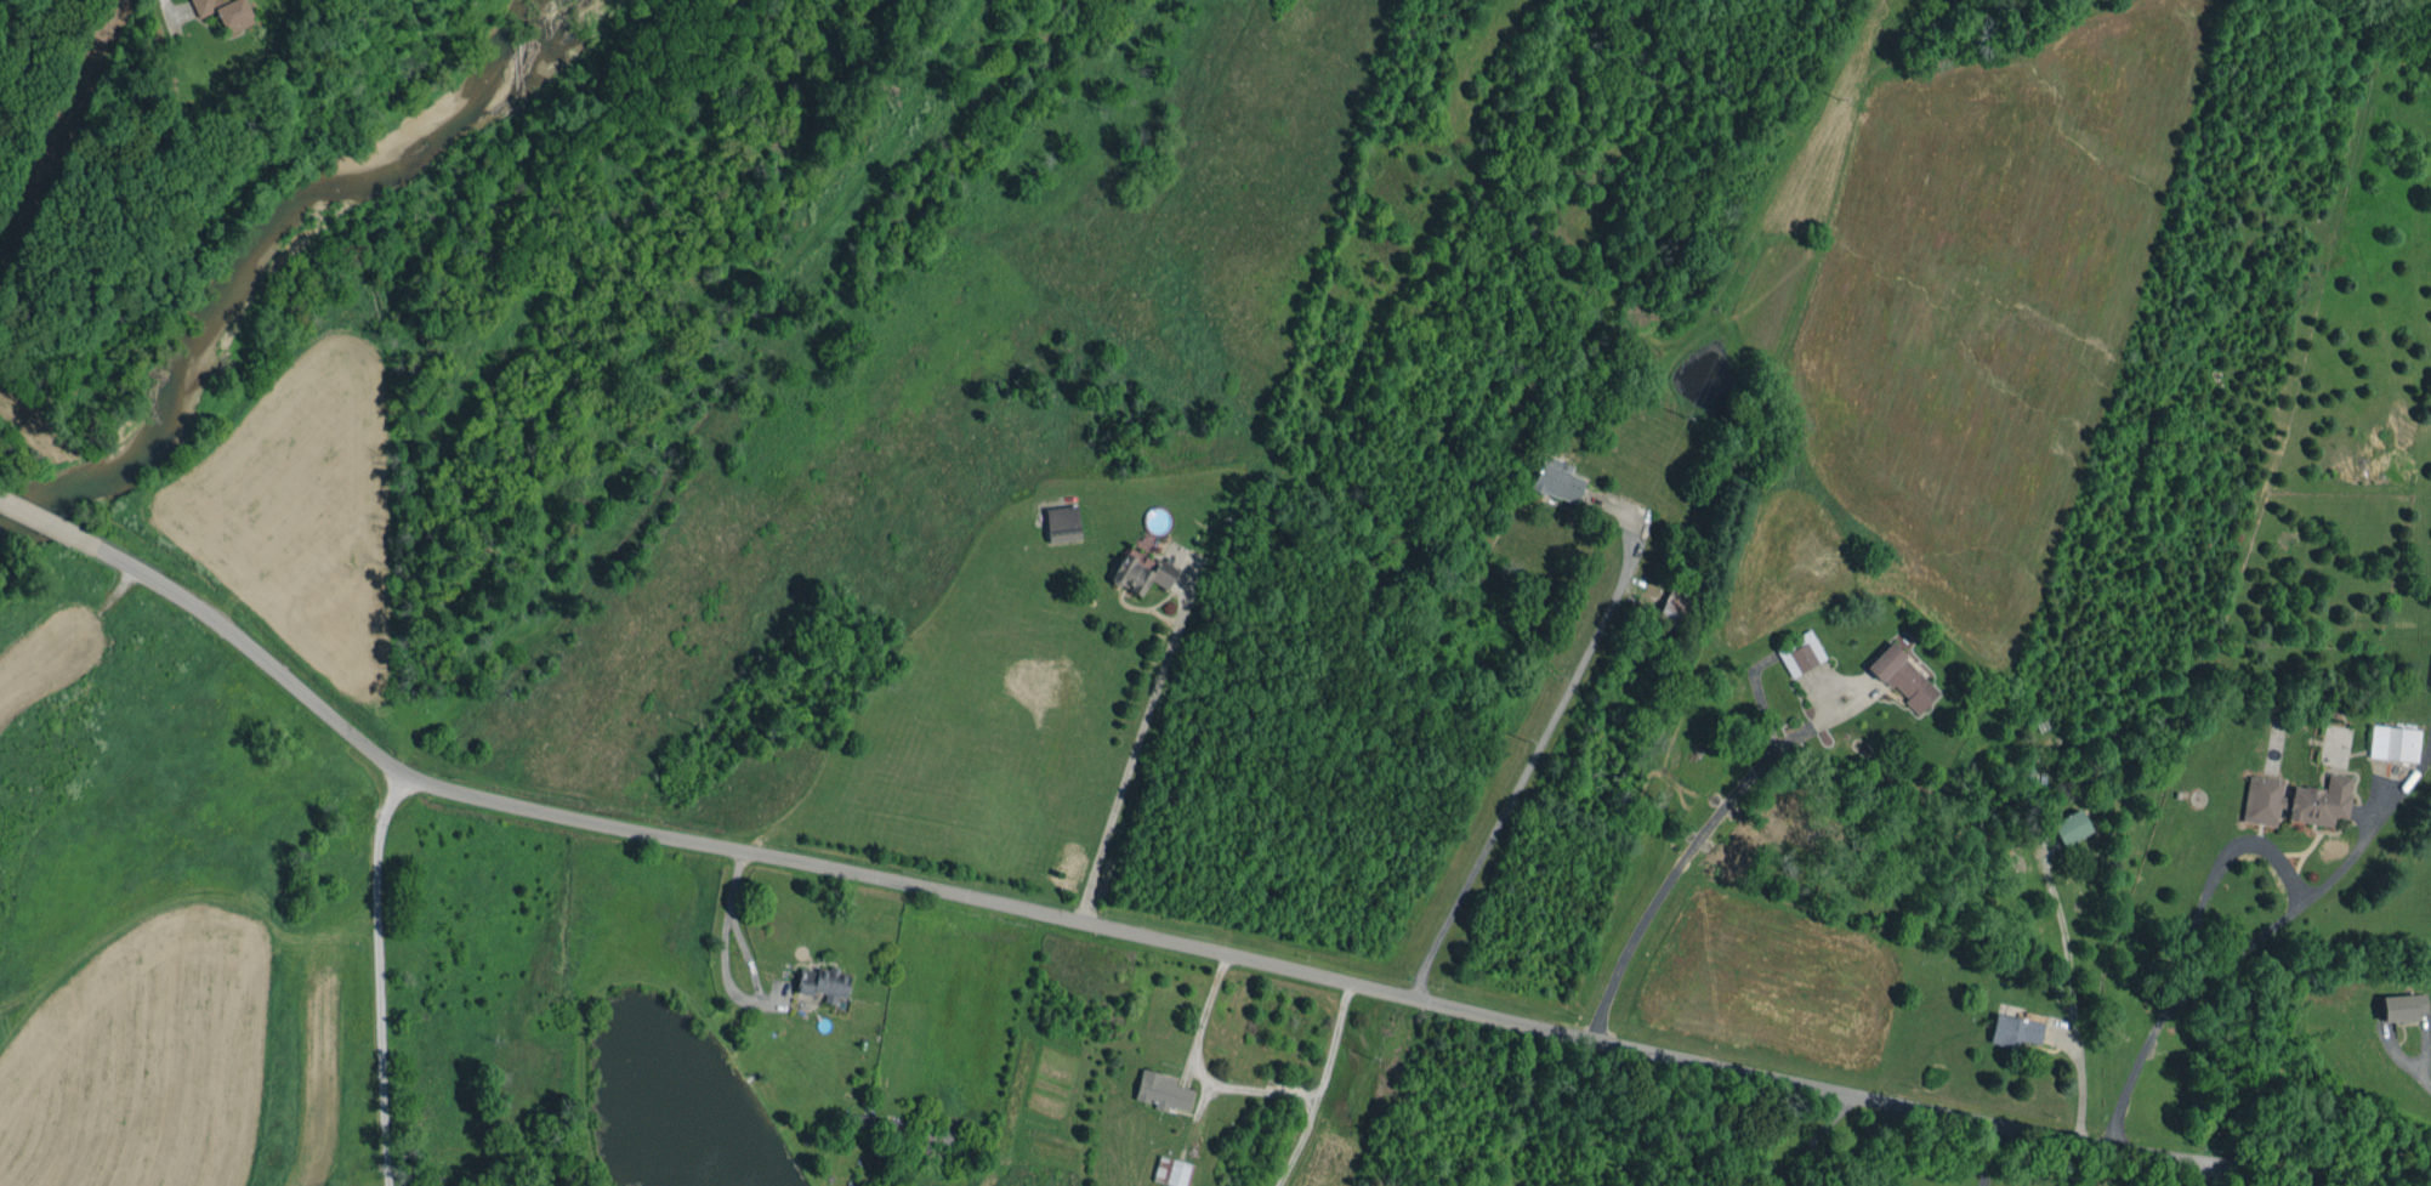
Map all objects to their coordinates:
building: (226, 12)
river: (259, 248)
building: (1556, 479)
road: (47, 522)
building: (1062, 523)
building: (1141, 572)
building: (1674, 606)
building: (1800, 653)
building: (1903, 677)
building: (2430, 685)
building: (2395, 743)
road: (1138, 744)
road: (1539, 747)
building: (2296, 800)
building: (2071, 827)
road: (1700, 839)
road: (2214, 872)
road: (738, 932)
road: (1165, 938)
road: (2254, 941)
road: (368, 972)
building: (823, 982)
building: (2403, 1006)
building: (2016, 1031)
road: (2404, 1059)
road: (1193, 1068)
road: (1318, 1085)
building: (1161, 1091)
building: (875, 1124)
road: (1818, 1139)
road: (1983, 1154)
building: (1172, 1171)
road: (2209, 1178)
road: (2215, 1178)

